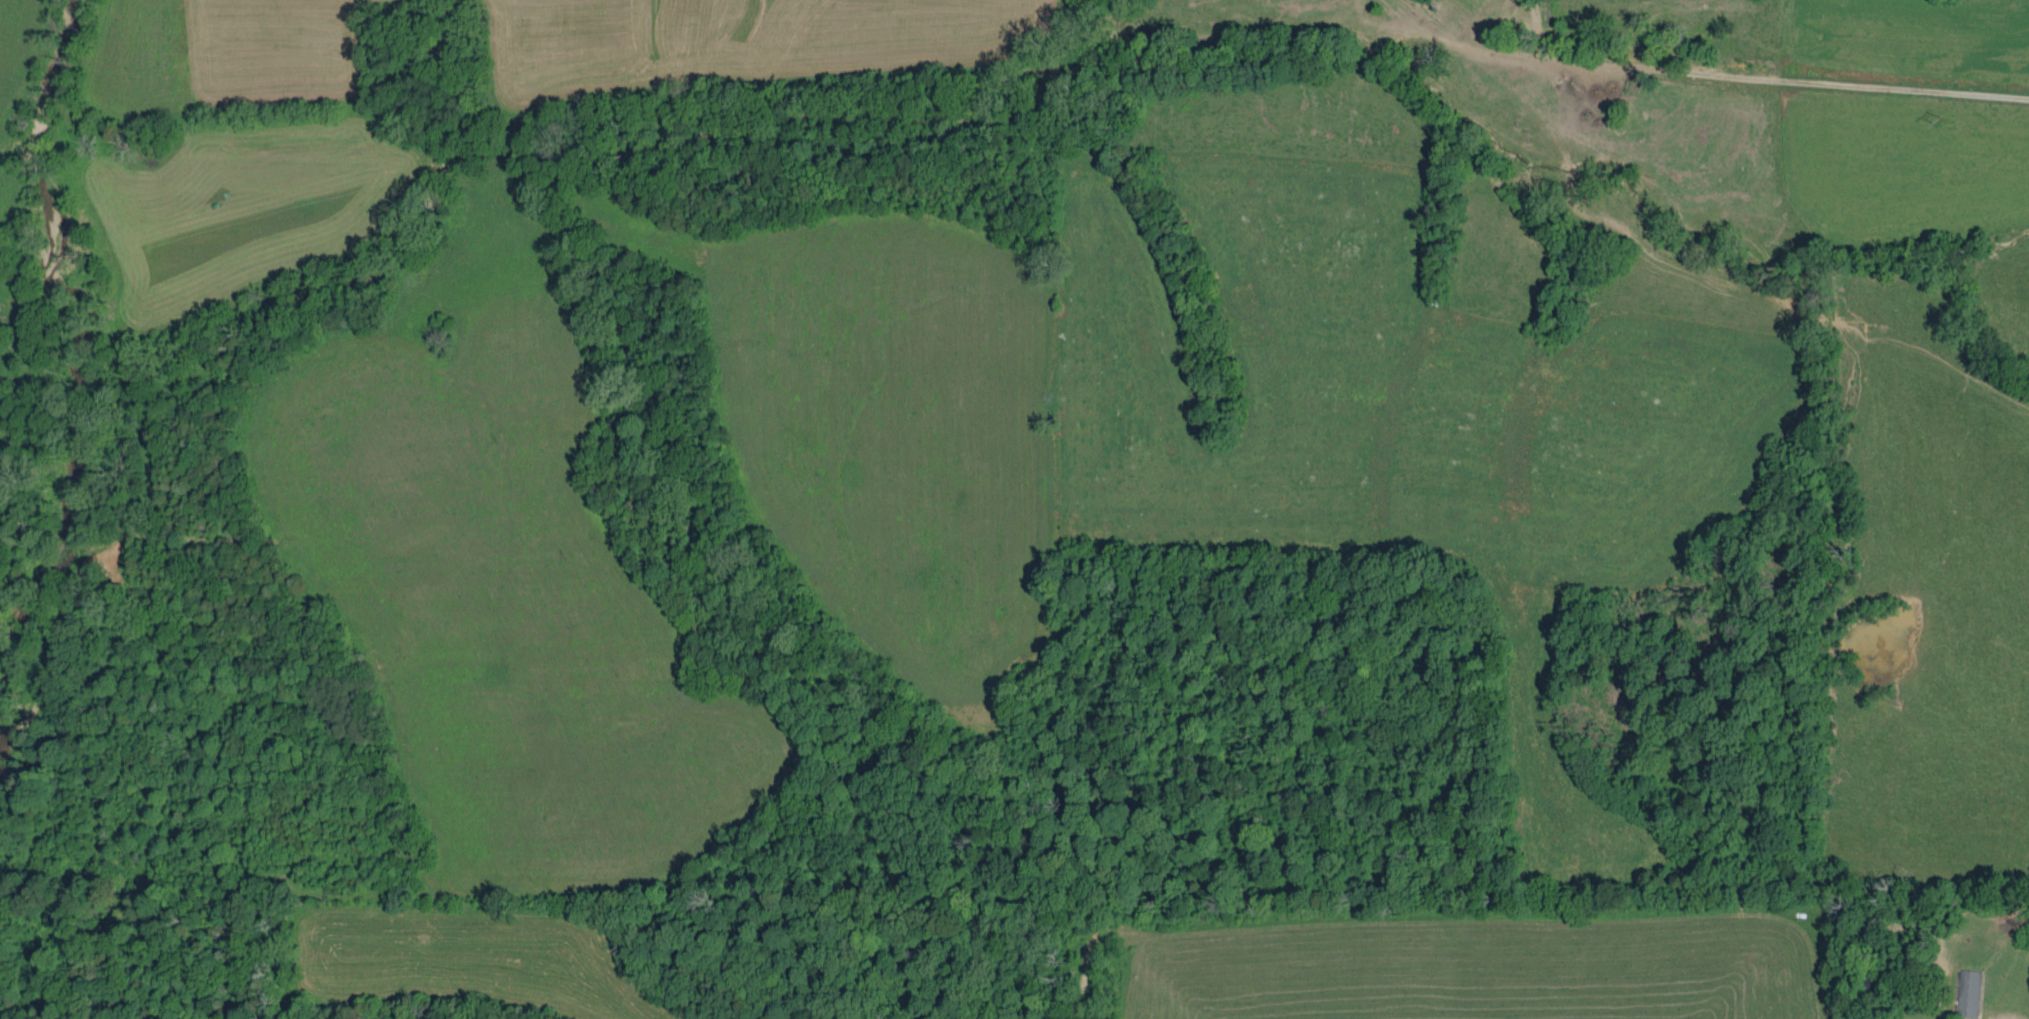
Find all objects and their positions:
road: (1759, 78)
power tower: (1934, 119)
building: (1968, 993)

